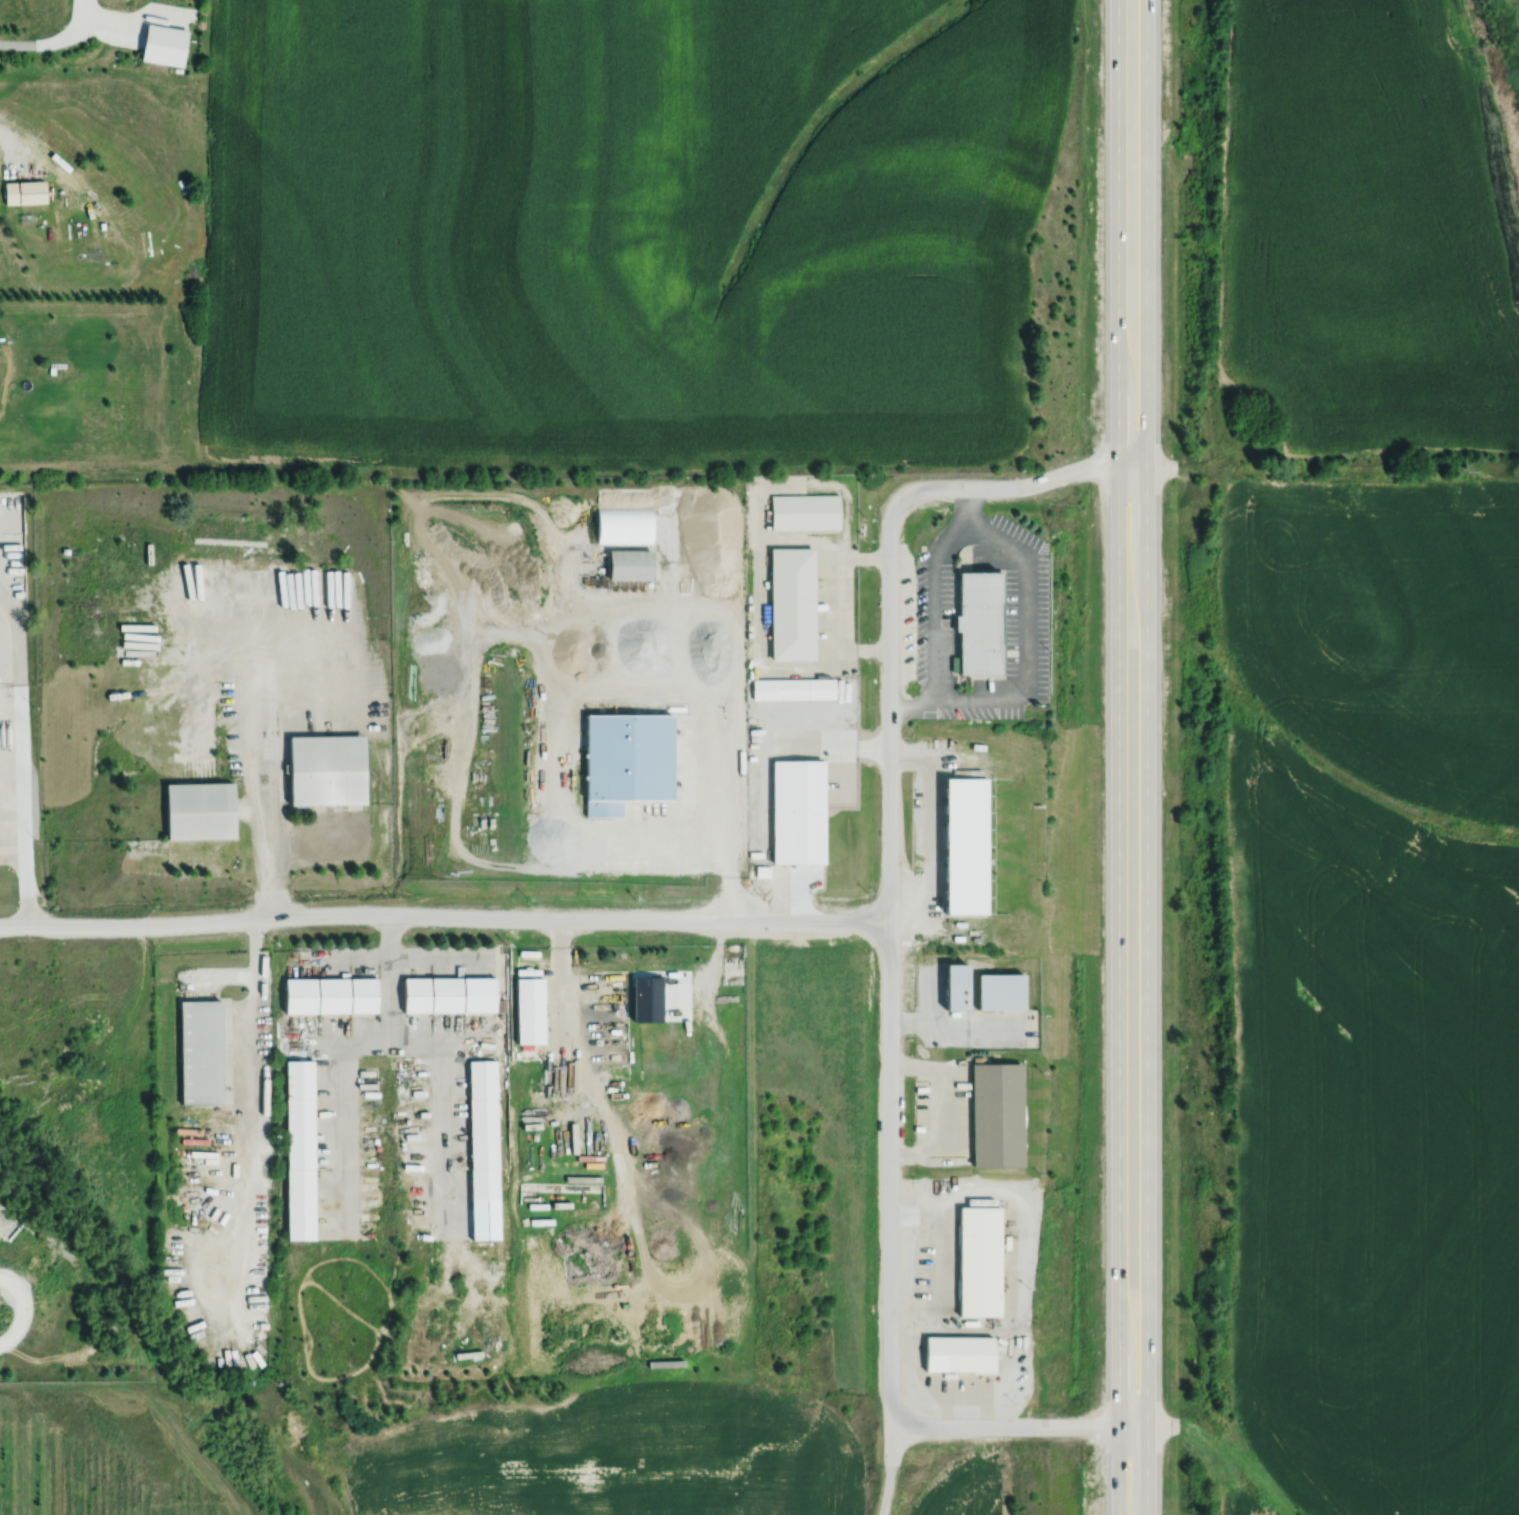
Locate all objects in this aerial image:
road: (110, 25)
road: (53, 40)
building: (163, 46)
road: (69, 173)
building: (25, 189)
building: (52, 235)
road: (1039, 483)
building: (805, 511)
building: (624, 524)
building: (631, 564)
road: (933, 602)
building: (792, 603)
building: (980, 623)
road: (1029, 644)
road: (16, 647)
building: (793, 688)
road: (1118, 757)
road: (1146, 757)
building: (628, 761)
building: (329, 771)
road: (258, 783)
road: (12, 801)
building: (200, 812)
building: (798, 812)
road: (24, 813)
road: (929, 820)
road: (725, 829)
building: (967, 847)
road: (443, 915)
road: (889, 959)
road: (711, 966)
building: (956, 987)
building: (1001, 991)
building: (448, 992)
building: (330, 993)
building: (646, 996)
road: (568, 1000)
building: (529, 1008)
road: (932, 1013)
road: (248, 1019)
building: (200, 1050)
road: (347, 1051)
road: (438, 1102)
road: (941, 1107)
building: (995, 1112)
building: (299, 1148)
building: (483, 1148)
road: (948, 1256)
building: (977, 1260)
building: (959, 1354)
road: (1041, 1426)
road: (889, 1462)

